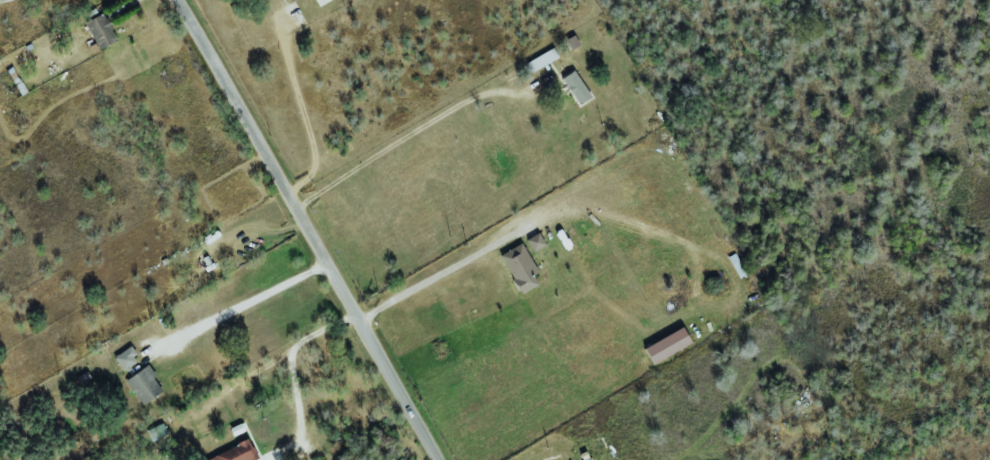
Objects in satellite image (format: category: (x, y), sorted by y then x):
building: (100, 32)
building: (540, 60)
building: (575, 88)
road: (405, 135)
road: (314, 230)
building: (535, 242)
building: (519, 268)
road: (433, 275)
road: (246, 300)
building: (667, 346)
building: (125, 359)
road: (291, 374)
building: (143, 385)
building: (235, 453)

